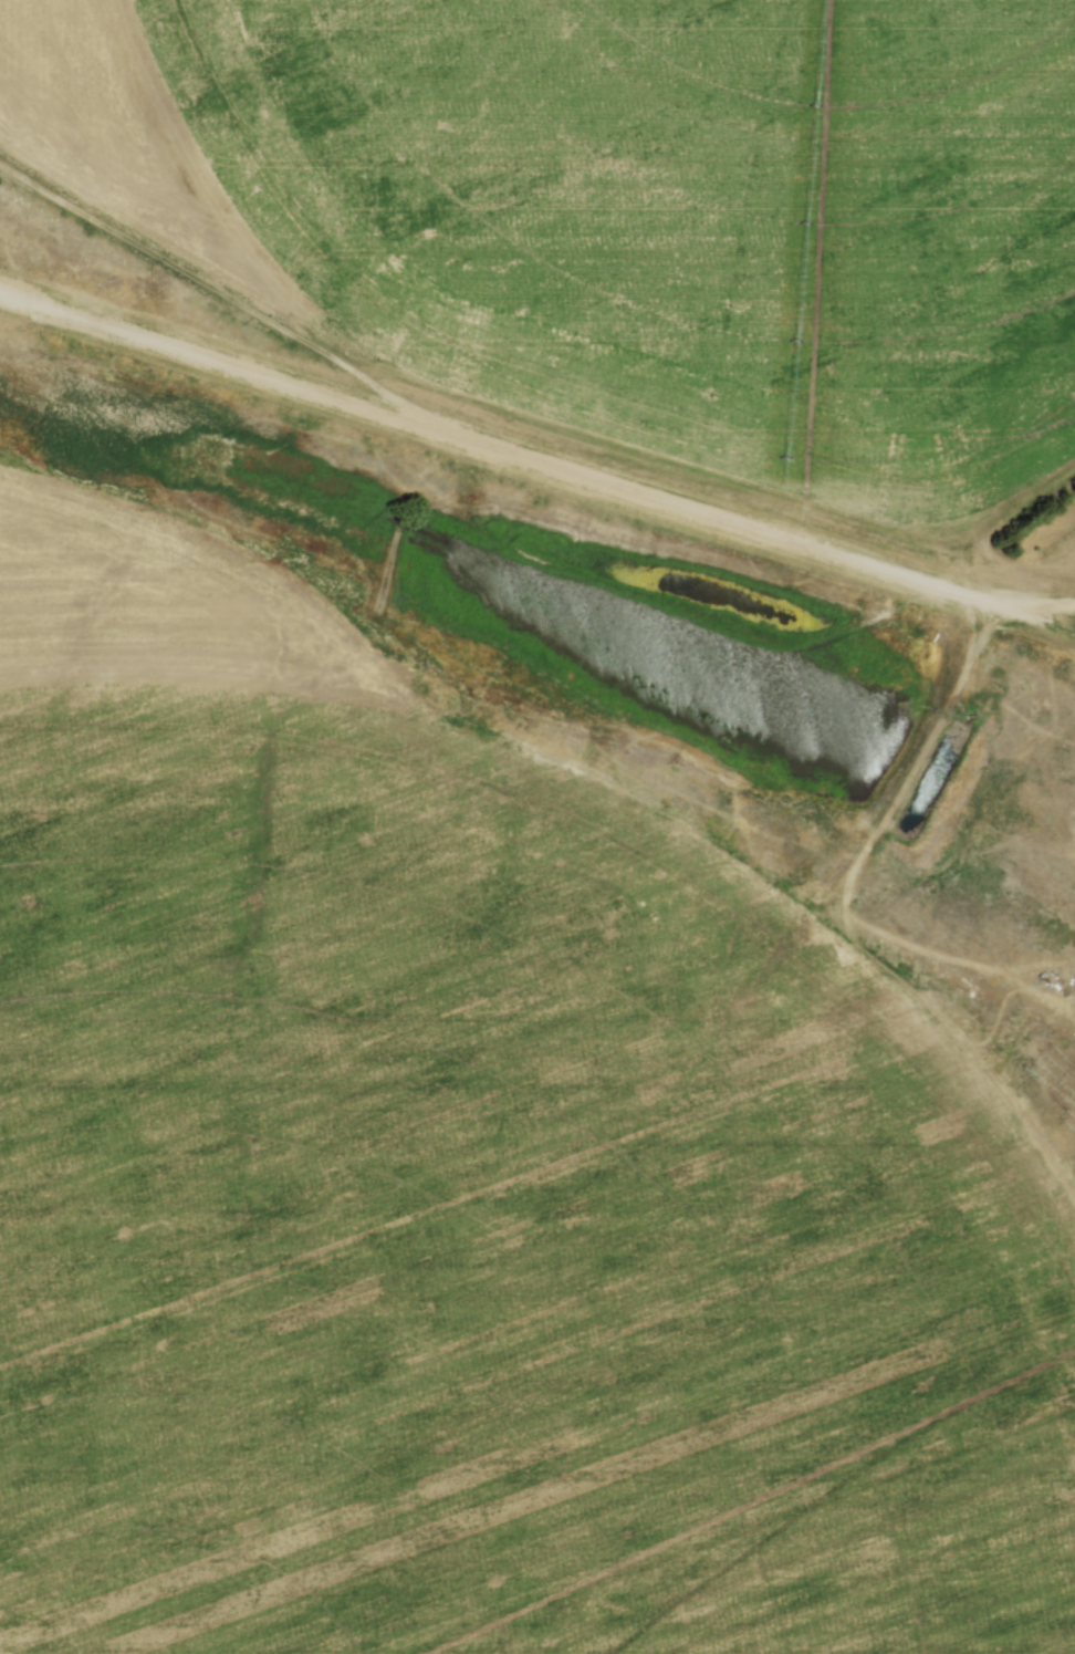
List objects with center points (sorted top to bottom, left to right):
crop: (623, 209)
road: (1036, 607)
crop: (468, 1189)

